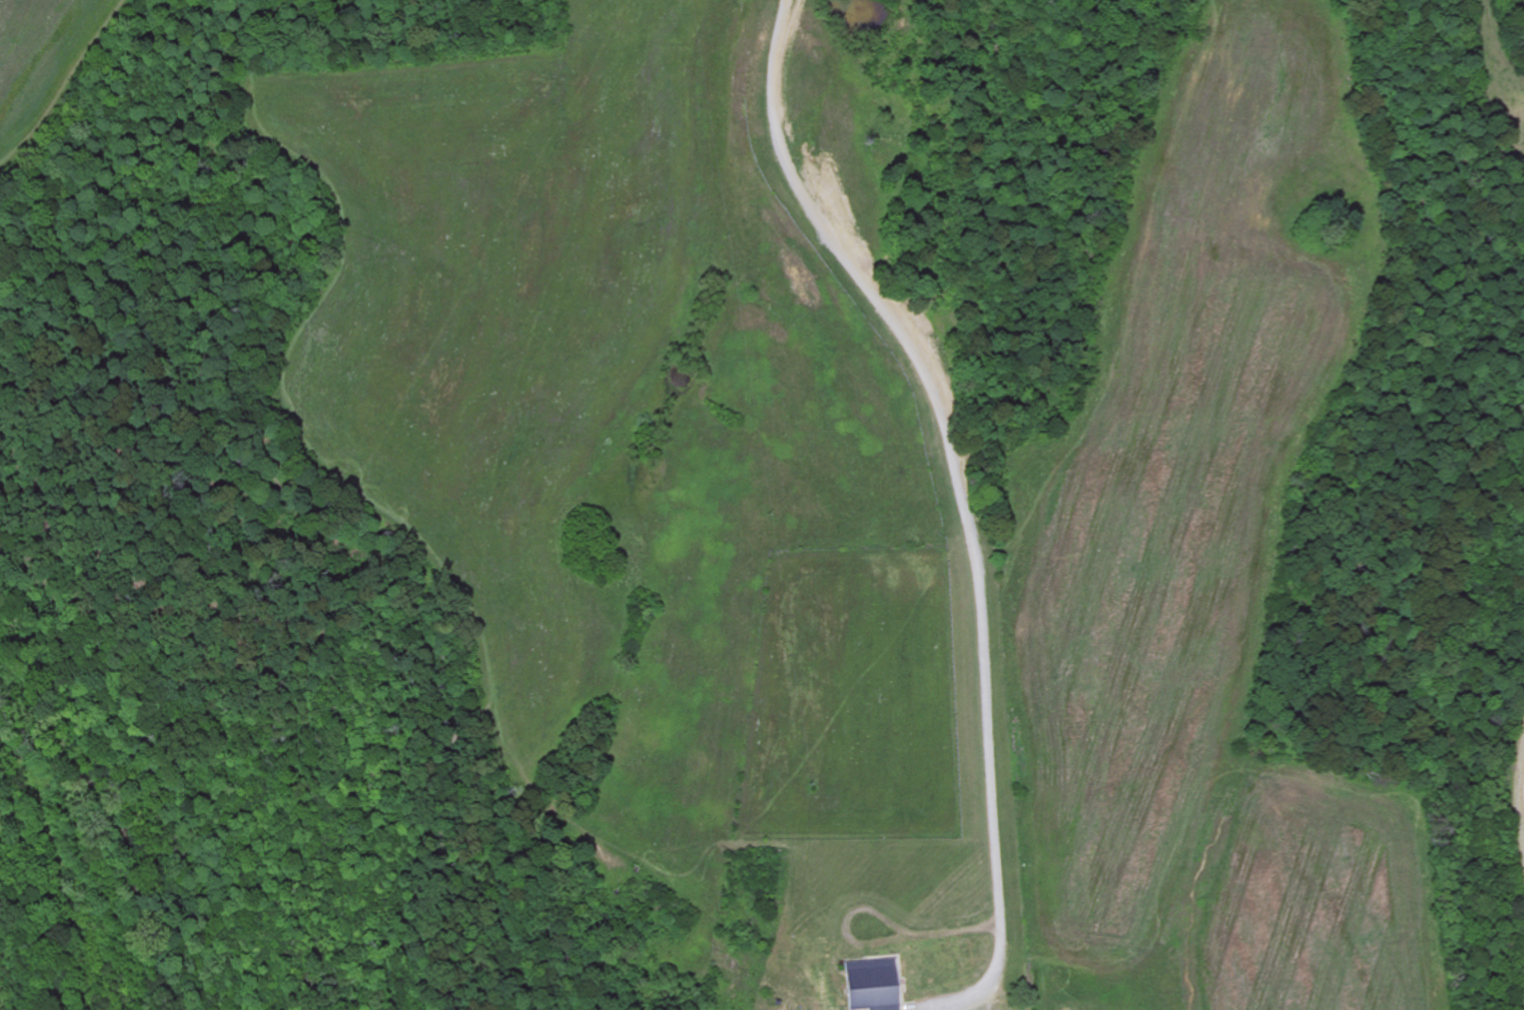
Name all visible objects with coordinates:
building: (870, 985)

